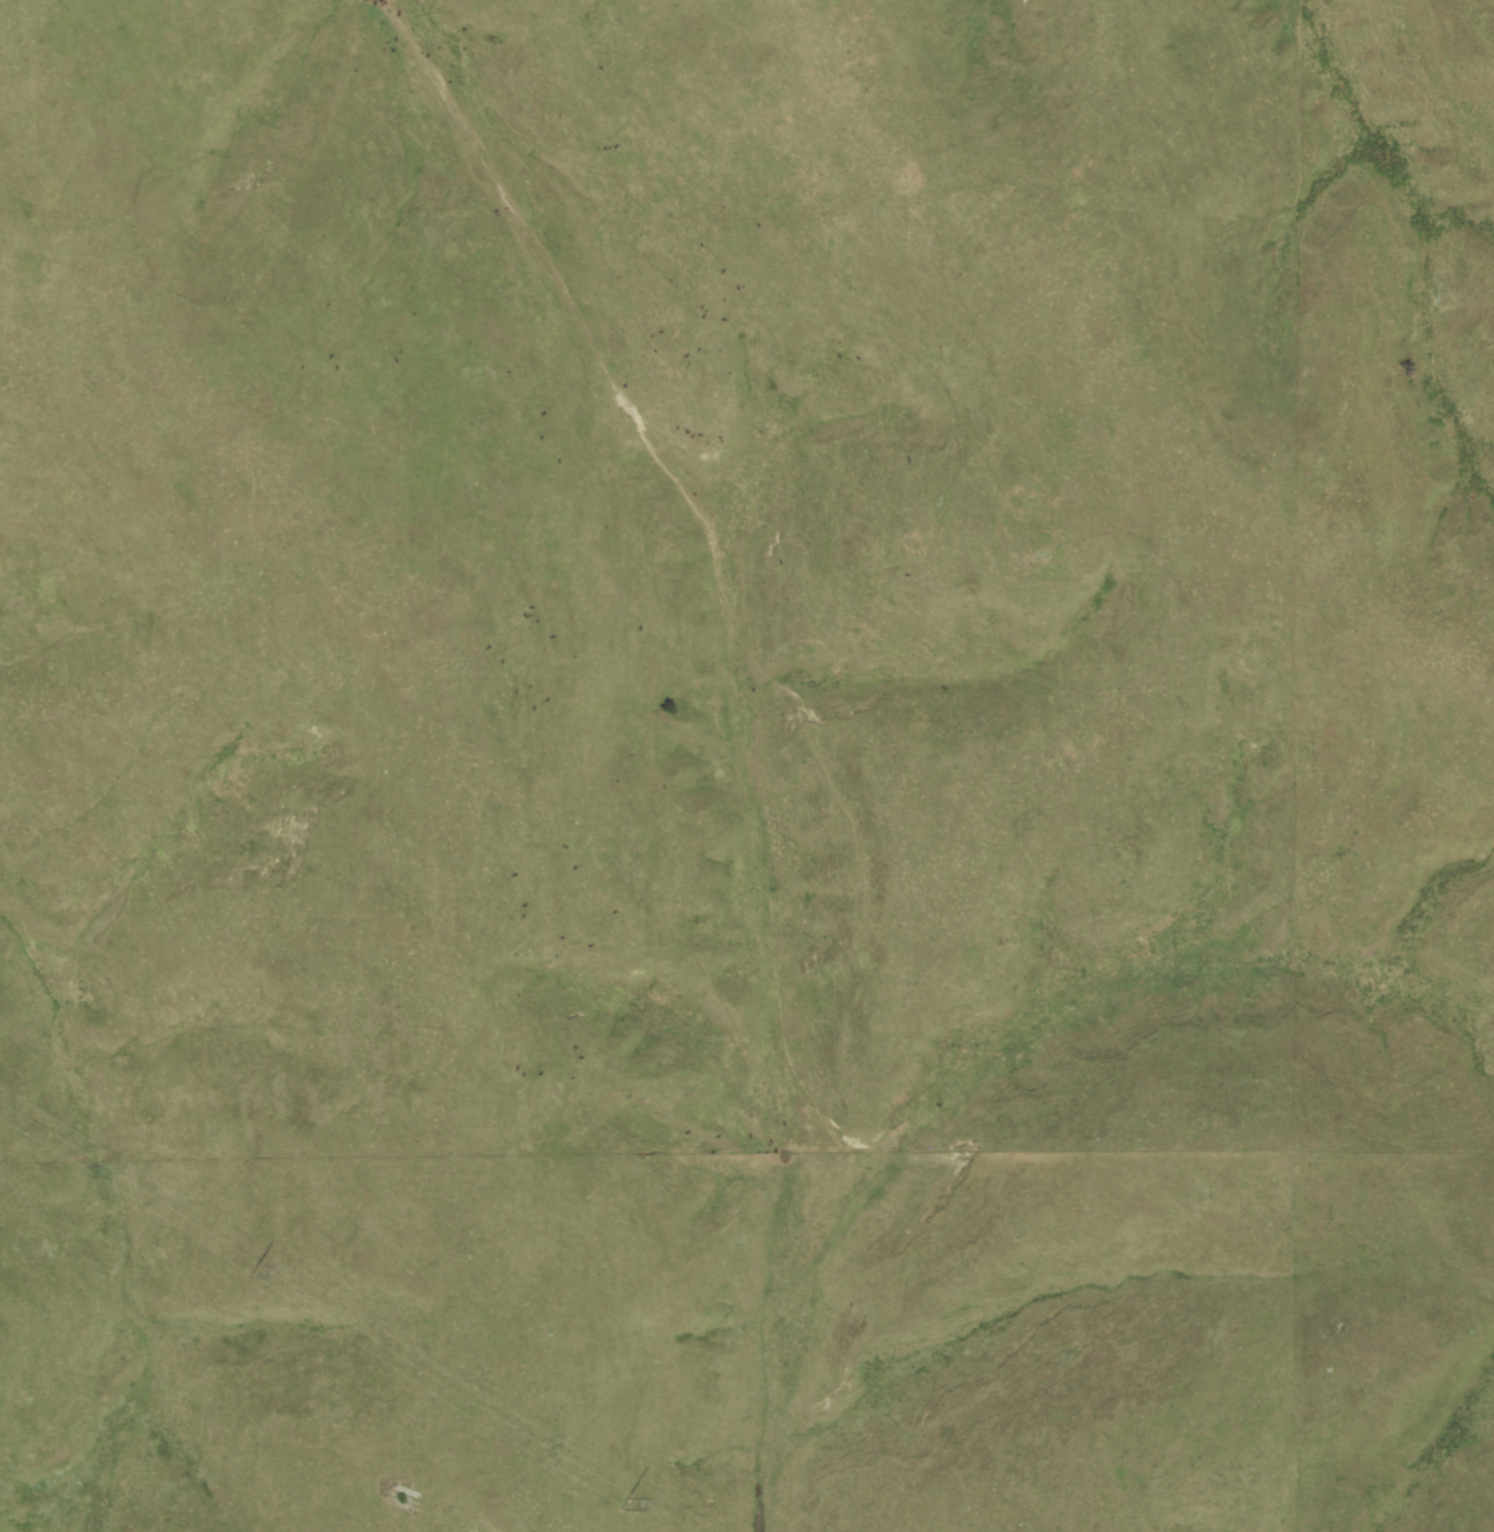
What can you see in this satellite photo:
power tower: (249, 1272)
power tower: (627, 1508)

